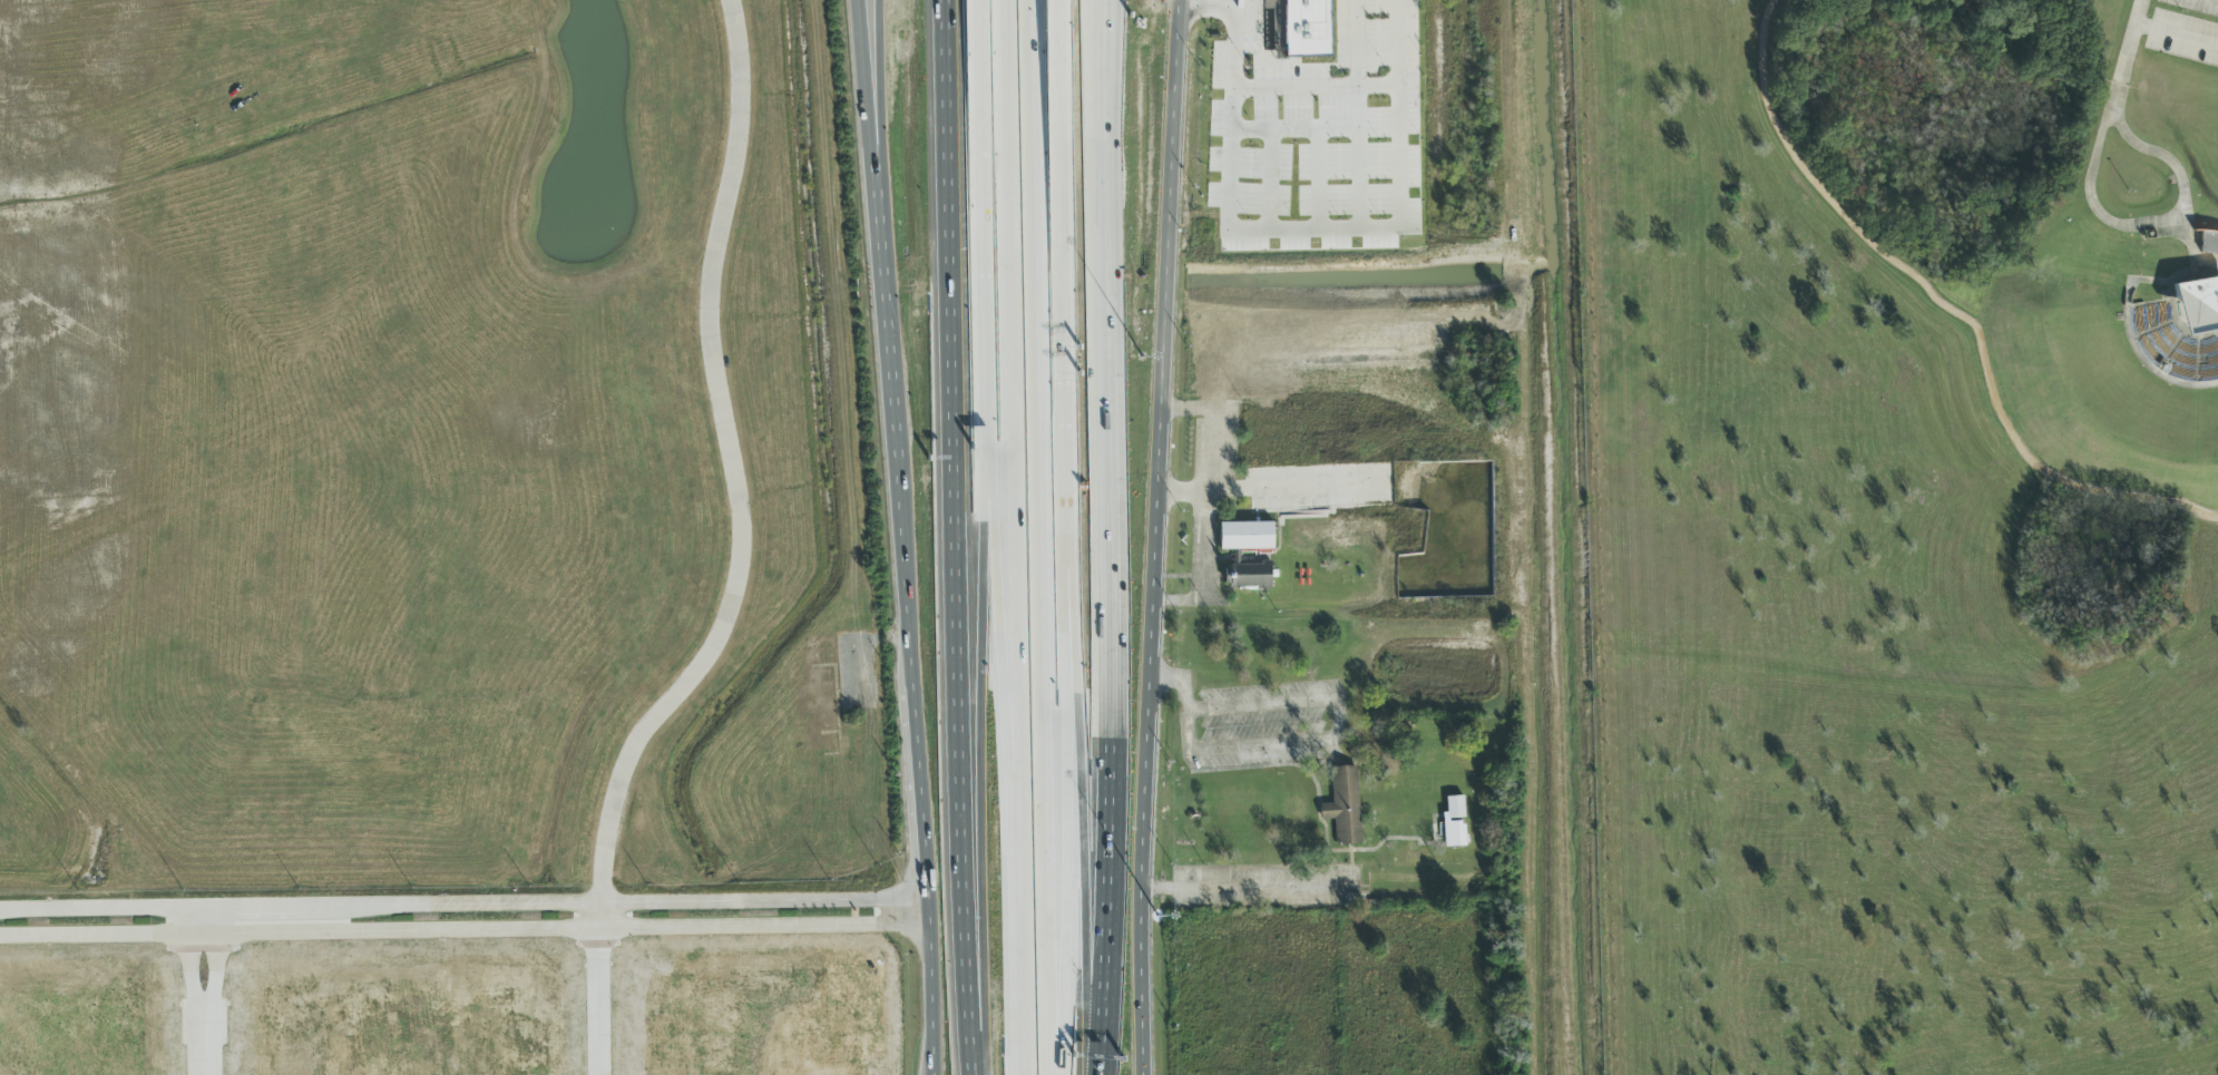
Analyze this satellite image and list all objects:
parking lot: (2196, 6)
road: (1211, 8)
building: (1301, 29)
road: (1094, 36)
road: (939, 37)
road: (2178, 37)
parking lot: (2185, 38)
road: (1232, 48)
road: (2129, 58)
road: (867, 86)
road: (876, 86)
road: (1378, 86)
road: (1338, 87)
road: (1358, 108)
road: (1342, 130)
road: (2180, 173)
road: (1269, 179)
road: (1318, 179)
road: (980, 212)
road: (1357, 228)
building: (2209, 244)
road: (1945, 307)
building: (2197, 311)
road: (1132, 312)
road: (1169, 312)
road: (896, 428)
road: (730, 467)
road: (1296, 489)
road: (1184, 492)
road: (1206, 507)
park: (1895, 535)
road: (1014, 537)
road: (1042, 537)
road: (1071, 537)
building: (1244, 554)
road: (1105, 574)
road: (954, 575)
road: (1179, 683)
road: (1001, 720)
parking lot: (1273, 721)
road: (1333, 723)
road: (1186, 730)
road: (978, 750)
road: (1066, 760)
road: (918, 791)
building: (1339, 804)
building: (1454, 823)
road: (1147, 849)
road: (1162, 888)
road: (1335, 889)
road: (460, 903)
road: (461, 931)
road: (192, 959)
road: (214, 959)
road: (926, 986)
road: (598, 988)
road: (204, 1040)

